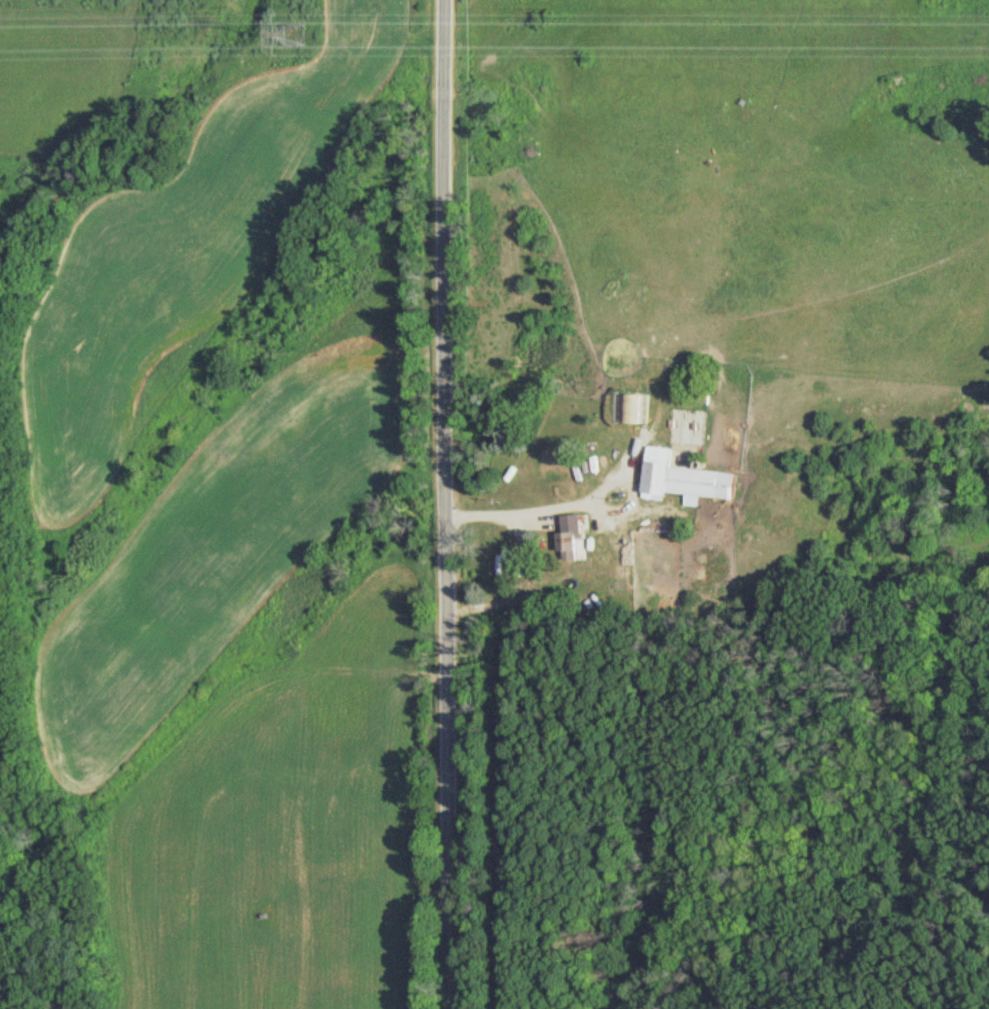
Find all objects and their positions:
power tower: (300, 31)
building: (688, 479)
road: (436, 504)
building: (571, 538)

